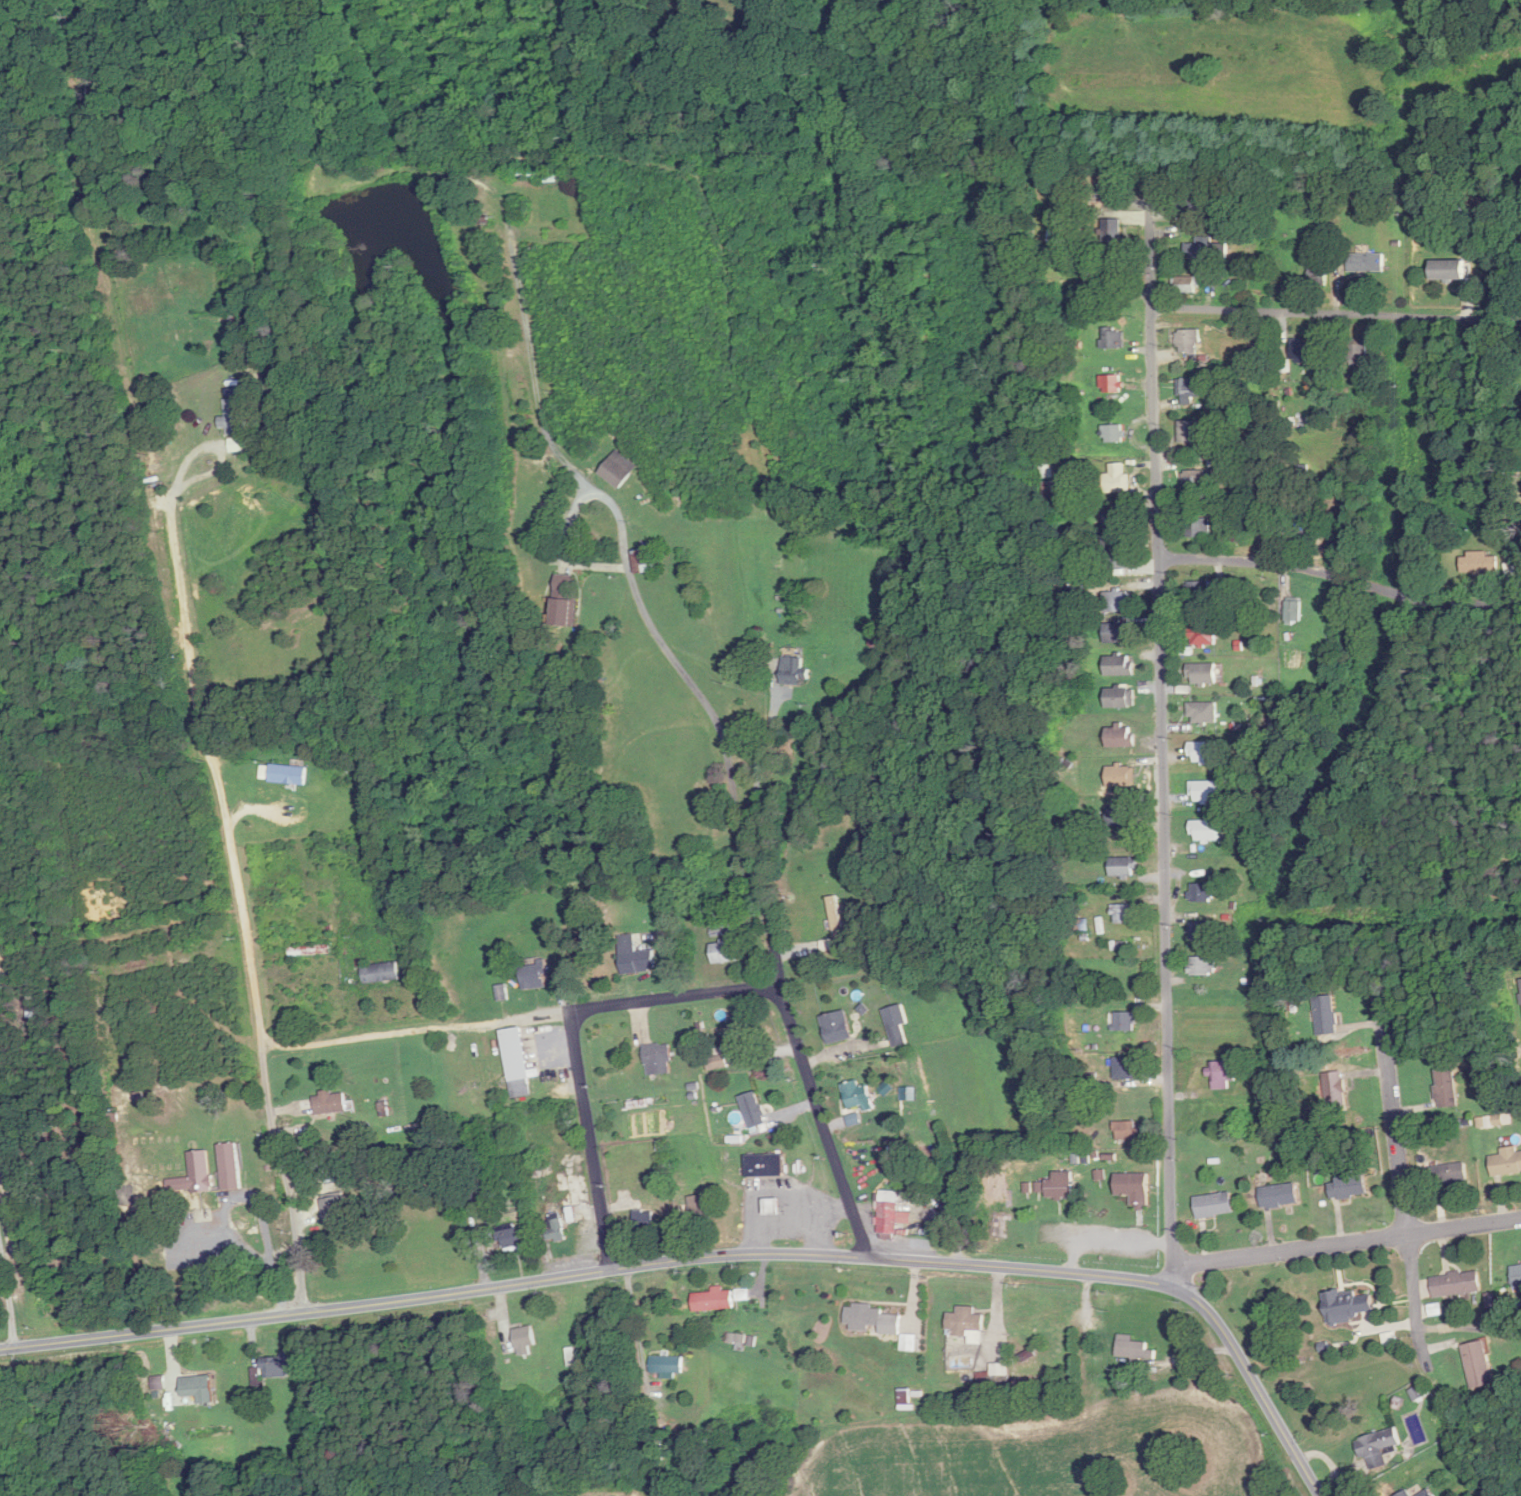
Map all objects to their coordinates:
building: (534, 173)
building: (1108, 188)
building: (1194, 206)
building: (1111, 232)
building: (565, 234)
building: (1206, 249)
building: (1366, 262)
building: (1450, 269)
building: (1110, 274)
building: (1316, 276)
building: (1187, 284)
road: (1336, 311)
building: (1112, 338)
building: (1187, 339)
building: (1301, 352)
building: (1357, 354)
building: (267, 356)
building: (1111, 384)
building: (1192, 389)
building: (234, 416)
building: (1196, 431)
building: (1112, 433)
road: (182, 461)
building: (1047, 470)
building: (617, 471)
building: (1115, 478)
building: (1197, 478)
building: (1050, 490)
building: (1117, 517)
building: (1303, 524)
building: (1197, 527)
building: (1117, 551)
building: (646, 561)
building: (1479, 563)
road: (1333, 575)
building: (1198, 590)
building: (566, 600)
building: (1118, 601)
building: (1294, 611)
building: (1118, 632)
building: (1202, 635)
building: (876, 638)
building: (1119, 665)
building: (795, 671)
building: (1203, 673)
building: (1119, 698)
road: (712, 713)
building: (1203, 713)
road: (1163, 733)
building: (1119, 737)
building: (1204, 752)
building: (288, 774)
road: (759, 774)
building: (1121, 776)
building: (1206, 791)
road: (220, 802)
building: (1121, 815)
building: (1206, 830)
building: (1123, 867)
building: (1201, 893)
building: (1124, 913)
building: (835, 915)
building: (1201, 929)
building: (311, 950)
building: (726, 952)
building: (636, 957)
building: (1203, 966)
building: (380, 972)
building: (534, 976)
road: (642, 999)
building: (1326, 1015)
building: (1124, 1021)
building: (897, 1024)
building: (837, 1027)
road: (383, 1032)
building: (737, 1038)
building: (658, 1058)
building: (717, 1062)
building: (517, 1063)
building: (1125, 1067)
building: (1223, 1074)
building: (1446, 1087)
building: (1335, 1091)
building: (857, 1094)
building: (324, 1103)
building: (753, 1109)
building: (1127, 1129)
road: (591, 1138)
road: (1399, 1161)
building: (1507, 1162)
building: (765, 1164)
building: (230, 1165)
building: (194, 1174)
building: (1450, 1174)
road: (283, 1178)
building: (582, 1183)
building: (1061, 1185)
building: (1349, 1186)
building: (1134, 1187)
building: (1280, 1195)
road: (254, 1200)
building: (1215, 1205)
building: (700, 1210)
building: (336, 1213)
building: (580, 1213)
building: (890, 1214)
building: (645, 1221)
building: (555, 1229)
building: (512, 1238)
road: (1348, 1241)
road: (715, 1255)
building: (1517, 1276)
building: (1457, 1284)
road: (9, 1296)
building: (715, 1300)
building: (1348, 1305)
road: (632, 1314)
building: (873, 1319)
building: (966, 1323)
building: (525, 1340)
building: (1134, 1349)
building: (573, 1357)
building: (667, 1363)
building: (281, 1364)
building: (1479, 1364)
building: (159, 1382)
building: (199, 1387)
building: (1378, 1446)
building: (1406, 1493)
building: (1427, 1493)

